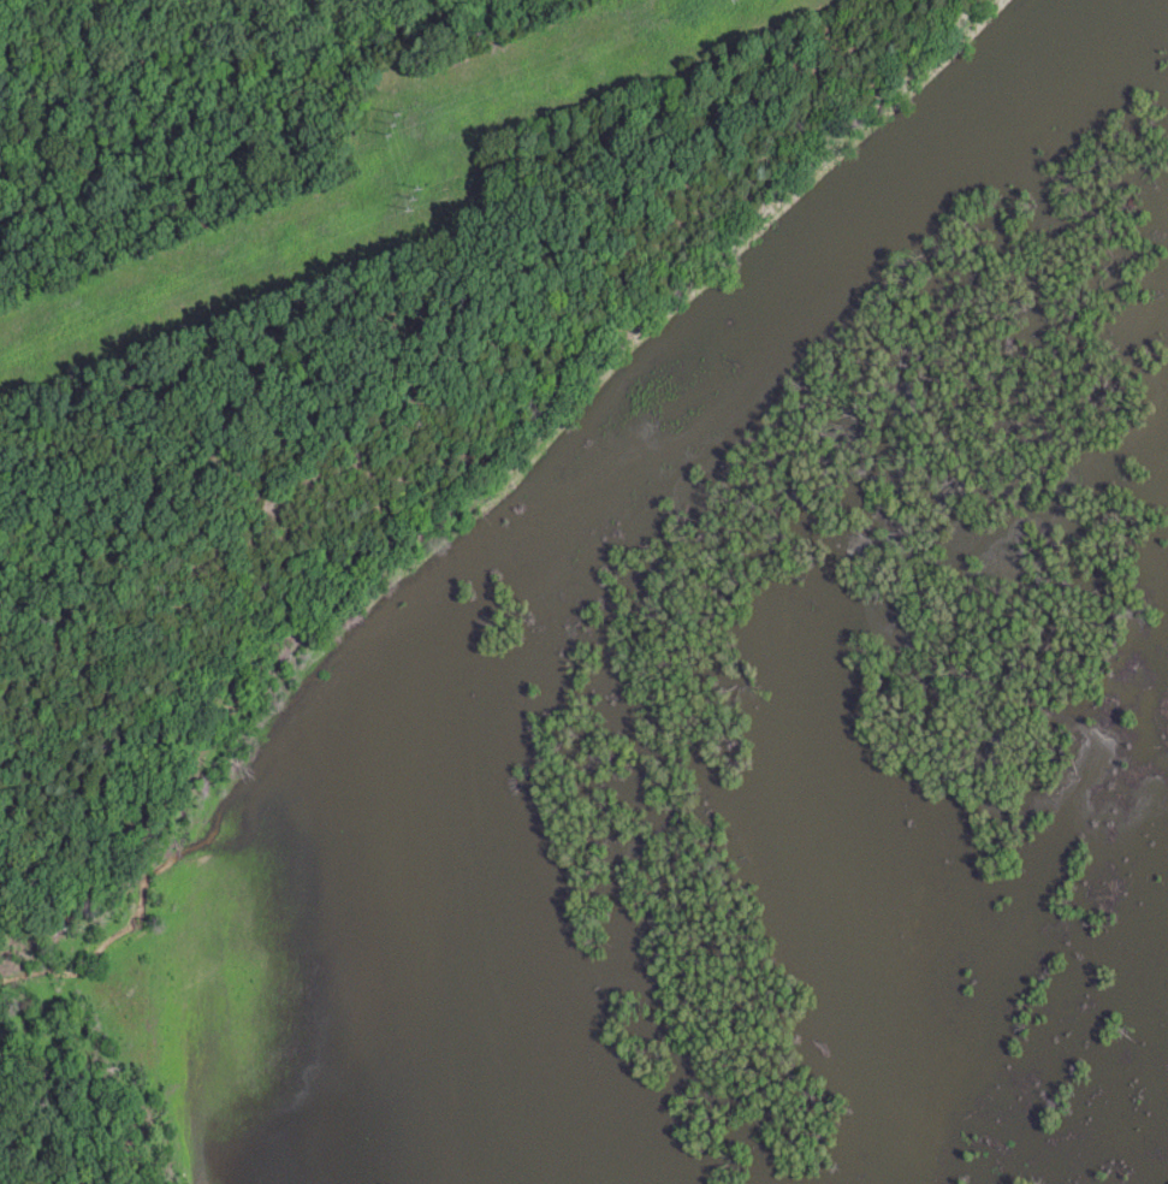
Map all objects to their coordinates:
power tower: (384, 108)
power tower: (417, 188)

